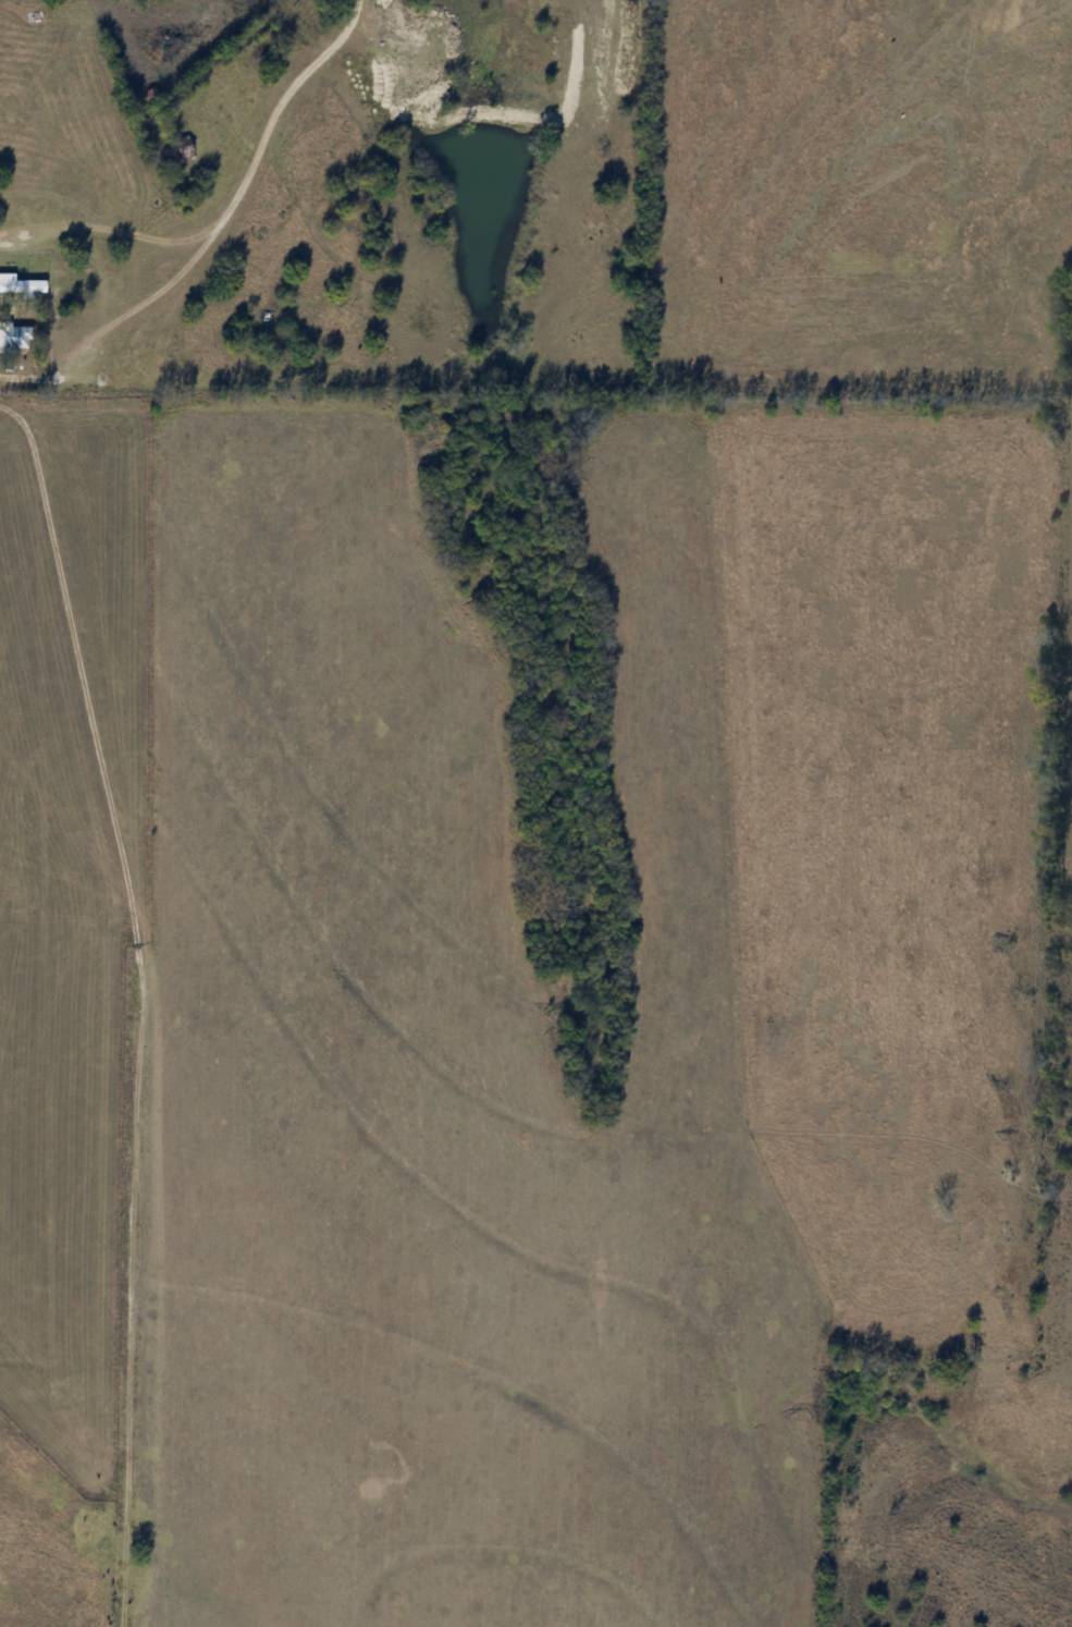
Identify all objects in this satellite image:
building: (180, 152)
building: (12, 339)
road: (77, 759)

